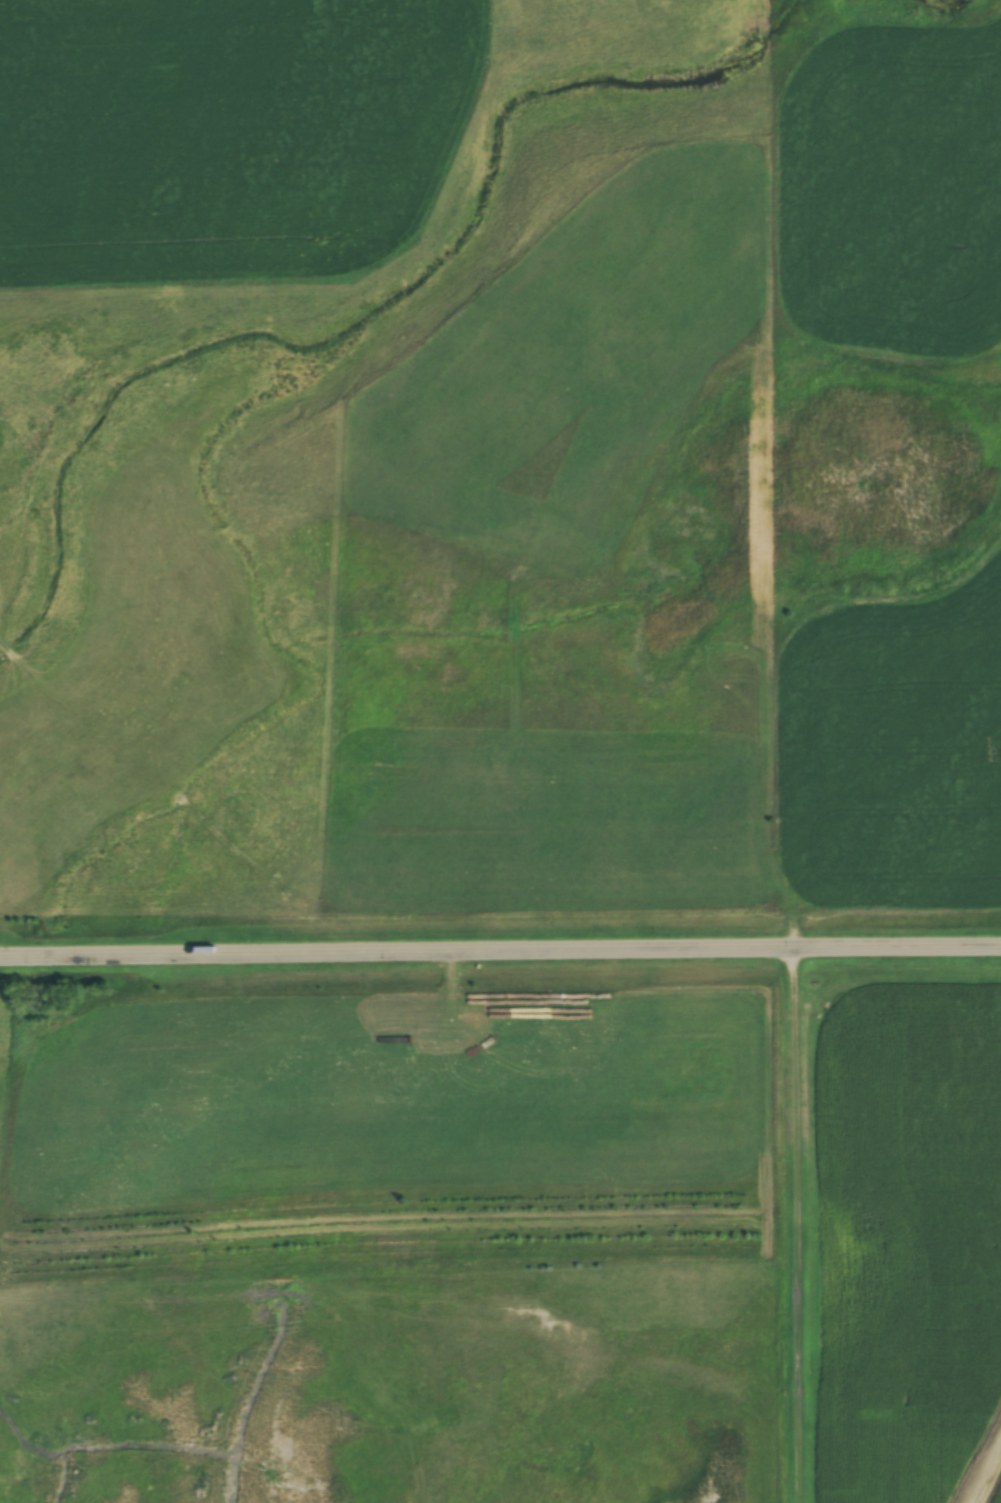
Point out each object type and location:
river: (682, 52)
road: (500, 947)

